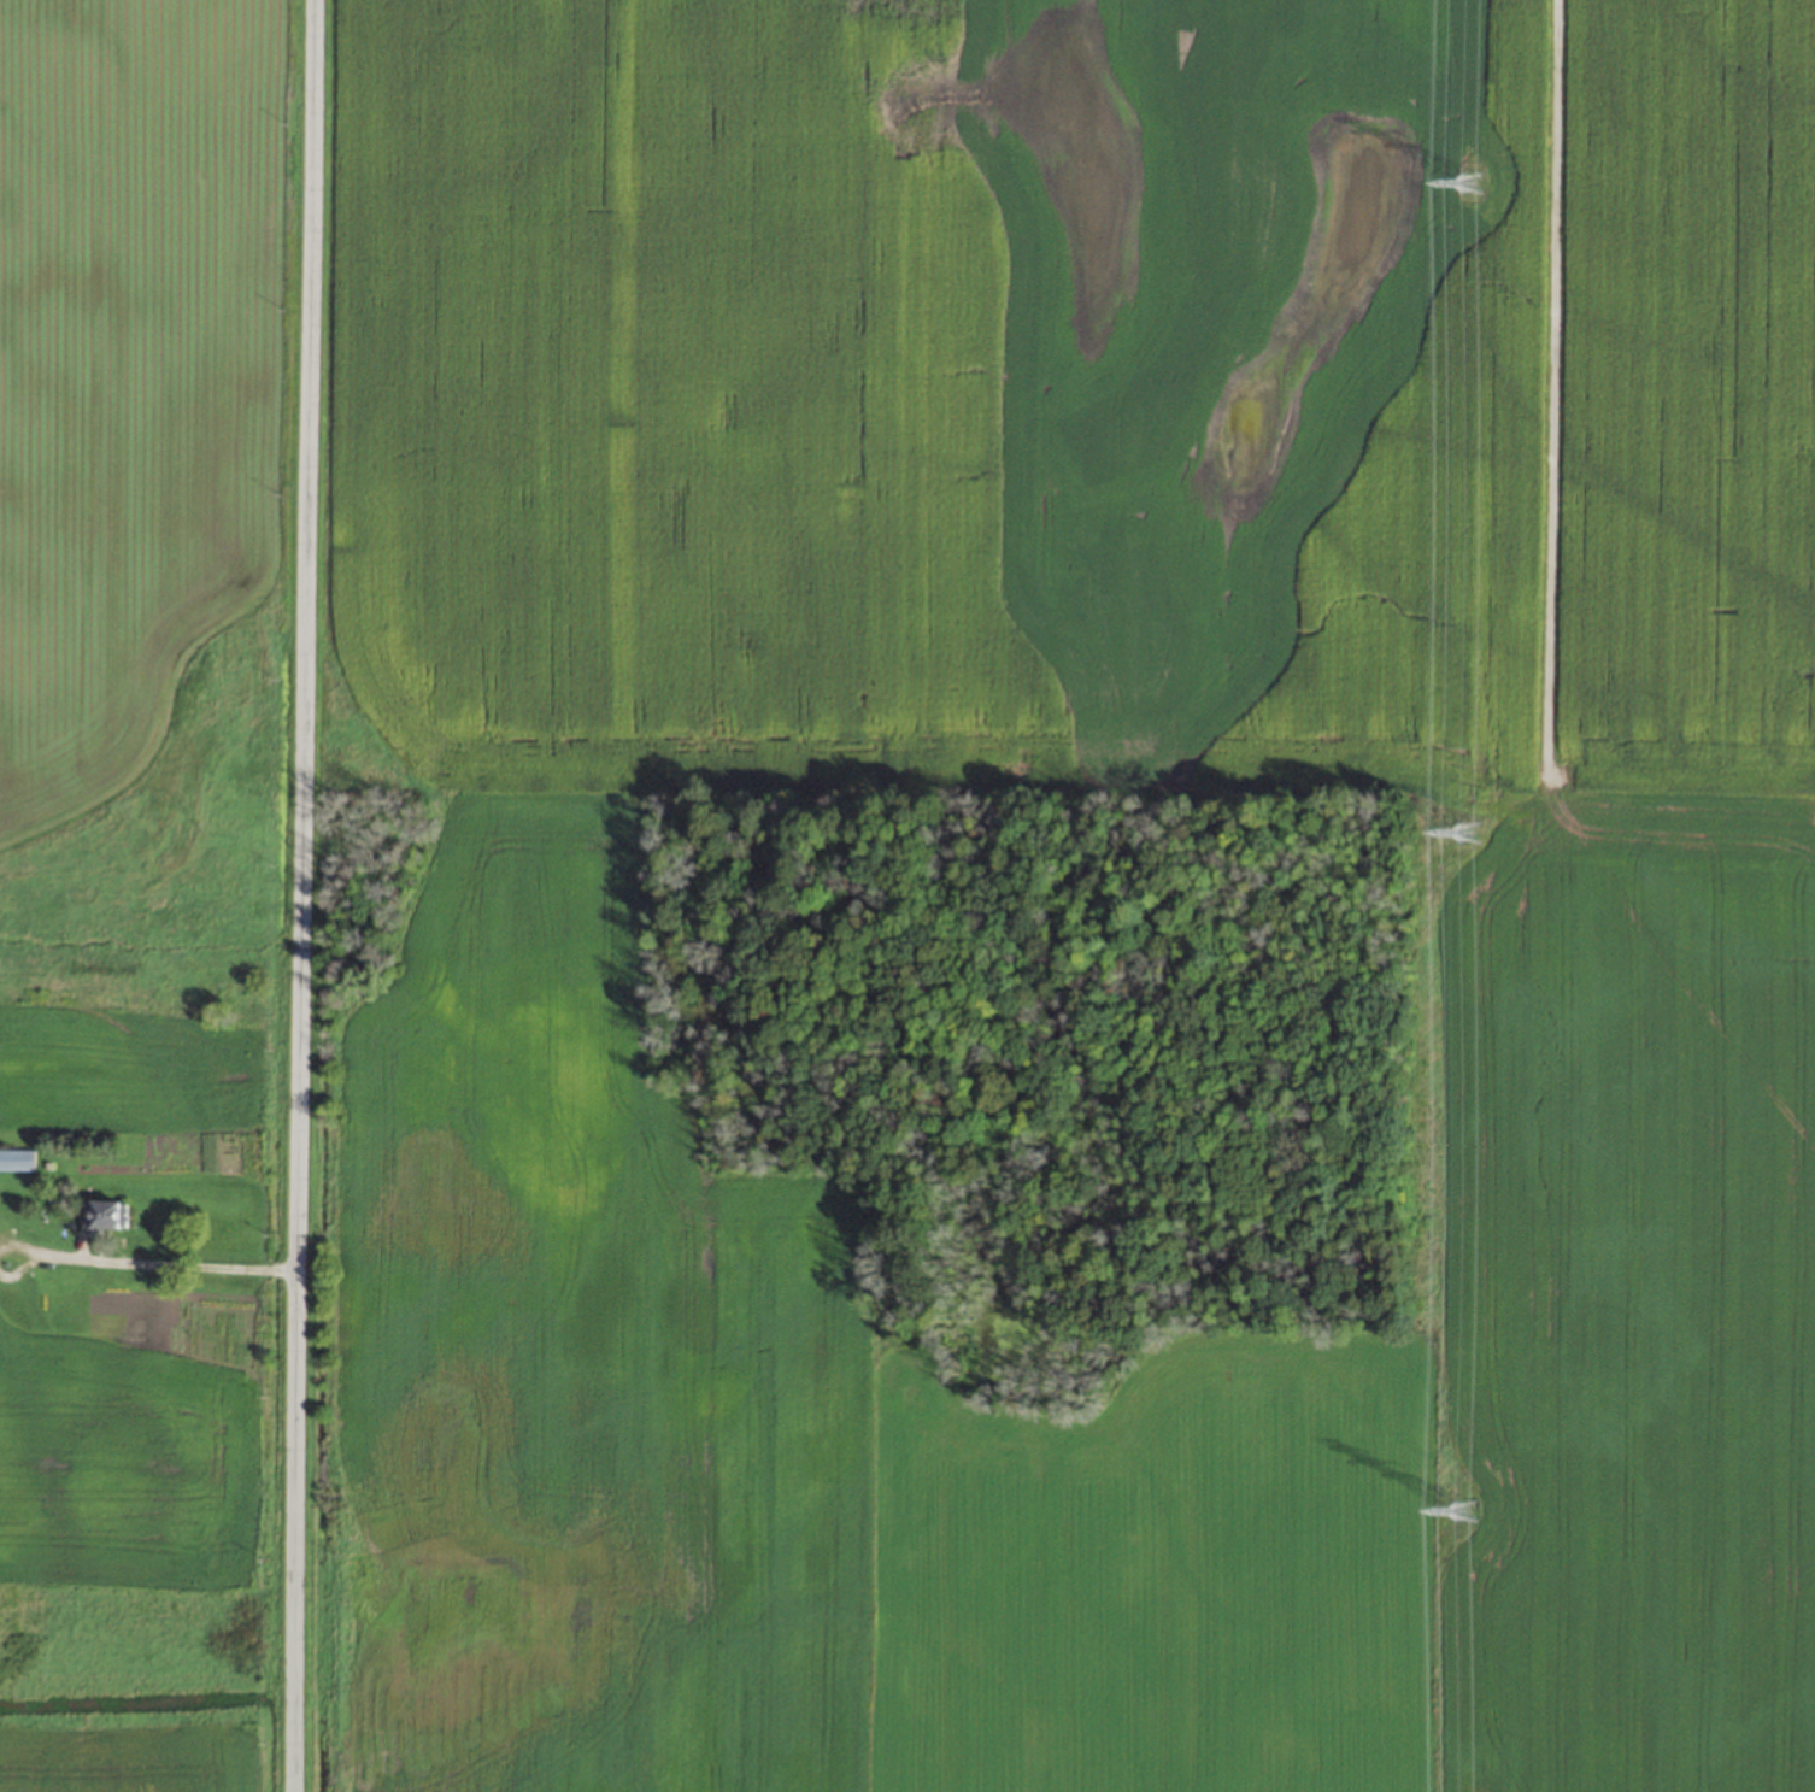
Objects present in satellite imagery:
power tower: (1470, 180)
power tower: (1469, 830)
road: (301, 895)
building: (16, 1159)
building: (106, 1215)
power tower: (1463, 1510)

